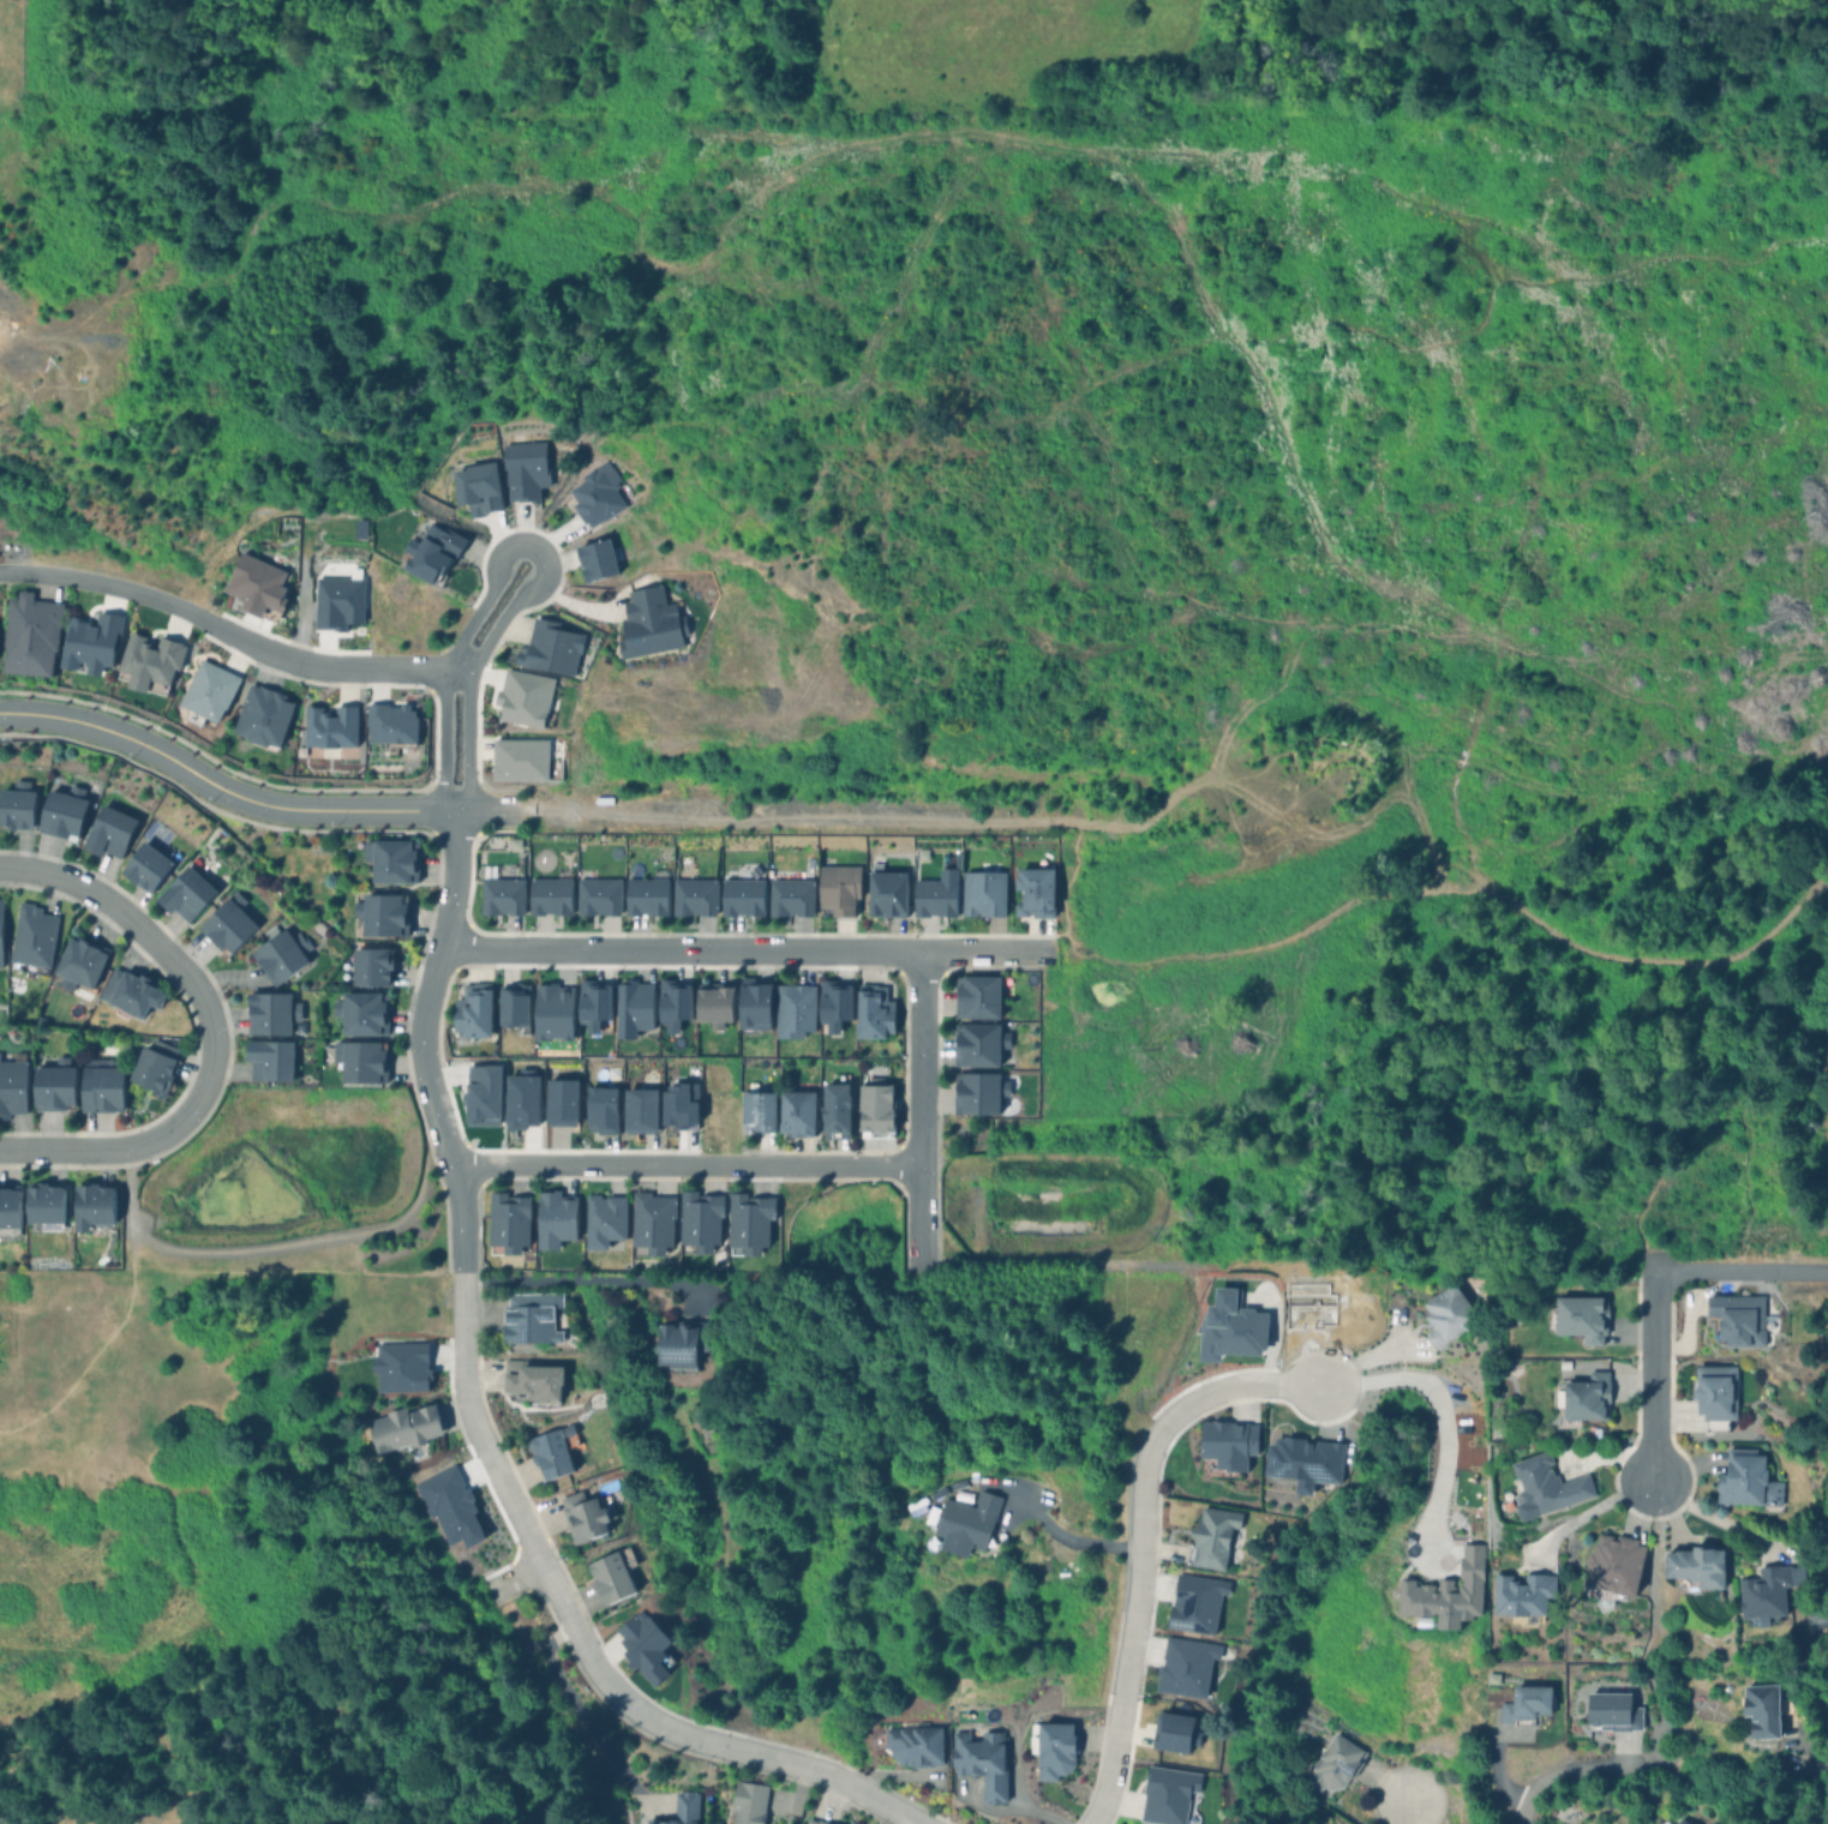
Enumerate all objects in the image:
building: (526, 469)
building: (478, 487)
building: (597, 493)
road: (528, 544)
building: (431, 552)
building: (597, 558)
road: (94, 580)
building: (256, 583)
building: (338, 601)
building: (649, 622)
building: (28, 634)
building: (89, 641)
building: (550, 647)
building: (150, 659)
road: (320, 666)
building: (209, 690)
building: (525, 697)
building: (260, 716)
building: (390, 722)
building: (328, 726)
building: (520, 758)
road: (220, 791)
building: (16, 805)
building: (60, 812)
road: (489, 814)
building: (107, 830)
building: (390, 859)
building: (144, 866)
building: (838, 888)
building: (1037, 892)
building: (184, 893)
building: (887, 893)
building: (984, 893)
building: (501, 895)
building: (550, 895)
building: (598, 895)
building: (646, 895)
building: (694, 895)
building: (742, 896)
building: (790, 896)
building: (935, 896)
building: (380, 913)
road: (133, 917)
building: (226, 924)
building: (0, 929)
building: (29, 940)
road: (745, 949)
building: (277, 953)
building: (77, 961)
building: (367, 966)
building: (128, 992)
building: (977, 996)
building: (673, 1002)
building: (593, 1003)
building: (714, 1003)
building: (834, 1003)
building: (513, 1004)
building: (754, 1004)
building: (633, 1007)
building: (472, 1009)
building: (795, 1010)
building: (874, 1012)
building: (269, 1013)
building: (360, 1013)
building: (552, 1014)
building: (981, 1044)
building: (266, 1060)
building: (358, 1061)
building: (151, 1064)
building: (11, 1084)
building: (52, 1084)
building: (100, 1084)
building: (978, 1092)
building: (481, 1094)
building: (562, 1102)
building: (681, 1104)
building: (876, 1108)
building: (601, 1109)
building: (641, 1109)
building: (798, 1109)
building: (837, 1109)
road: (922, 1110)
building: (759, 1111)
road: (140, 1145)
road: (688, 1164)
building: (42, 1204)
building: (90, 1204)
building: (8, 1210)
building: (555, 1217)
building: (603, 1218)
building: (699, 1219)
building: (507, 1220)
building: (651, 1222)
building: (748, 1222)
road: (274, 1240)
road: (1739, 1270)
road: (463, 1277)
road: (575, 1279)
building: (1451, 1314)
building: (531, 1316)
building: (1577, 1319)
building: (1740, 1319)
building: (1231, 1326)
building: (678, 1344)
building: (401, 1366)
road: (1650, 1378)
building: (532, 1379)
building: (1718, 1392)
building: (1582, 1398)
road: (1440, 1411)
building: (403, 1427)
building: (1224, 1445)
building: (552, 1452)
building: (1305, 1460)
building: (1750, 1481)
building: (1547, 1487)
building: (450, 1505)
road: (1589, 1508)
building: (929, 1513)
building: (583, 1517)
building: (966, 1523)
road: (1737, 1528)
road: (1068, 1537)
building: (1211, 1537)
road: (1138, 1541)
building: (1700, 1567)
building: (1614, 1568)
building: (613, 1574)
road: (511, 1580)
building: (1448, 1591)
building: (1768, 1592)
building: (1522, 1597)
building: (1193, 1604)
building: (643, 1644)
building: (1186, 1664)
building: (1526, 1703)
road: (567, 1704)
building: (1762, 1710)
building: (1611, 1711)
building: (1174, 1732)
road: (1803, 1735)
building: (917, 1745)
building: (1055, 1750)
road: (779, 1757)
building: (982, 1762)
building: (1335, 1764)
road: (1570, 1772)
building: (1167, 1794)
building: (747, 1802)
building: (681, 1810)
road: (1403, 1810)
building: (1682, 1820)
building: (814, 1822)
building: (1665, 1822)

